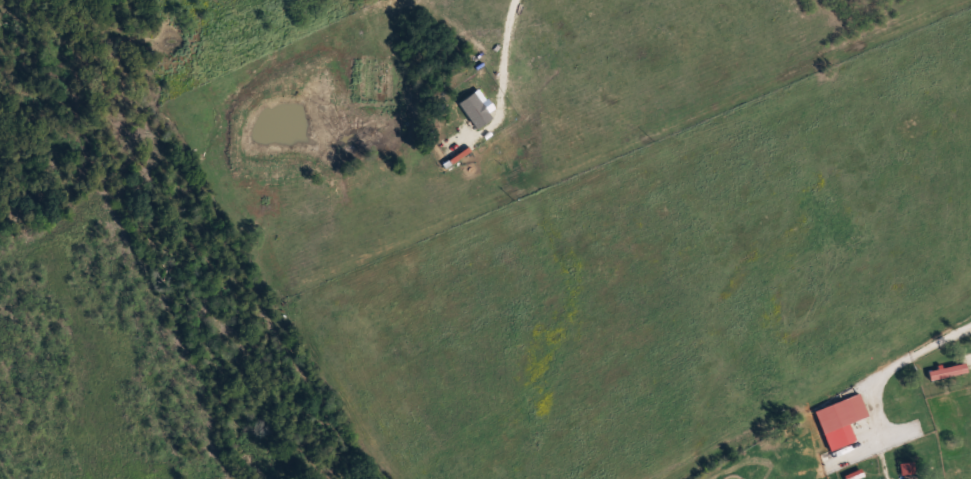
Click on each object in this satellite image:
building: (943, 370)

